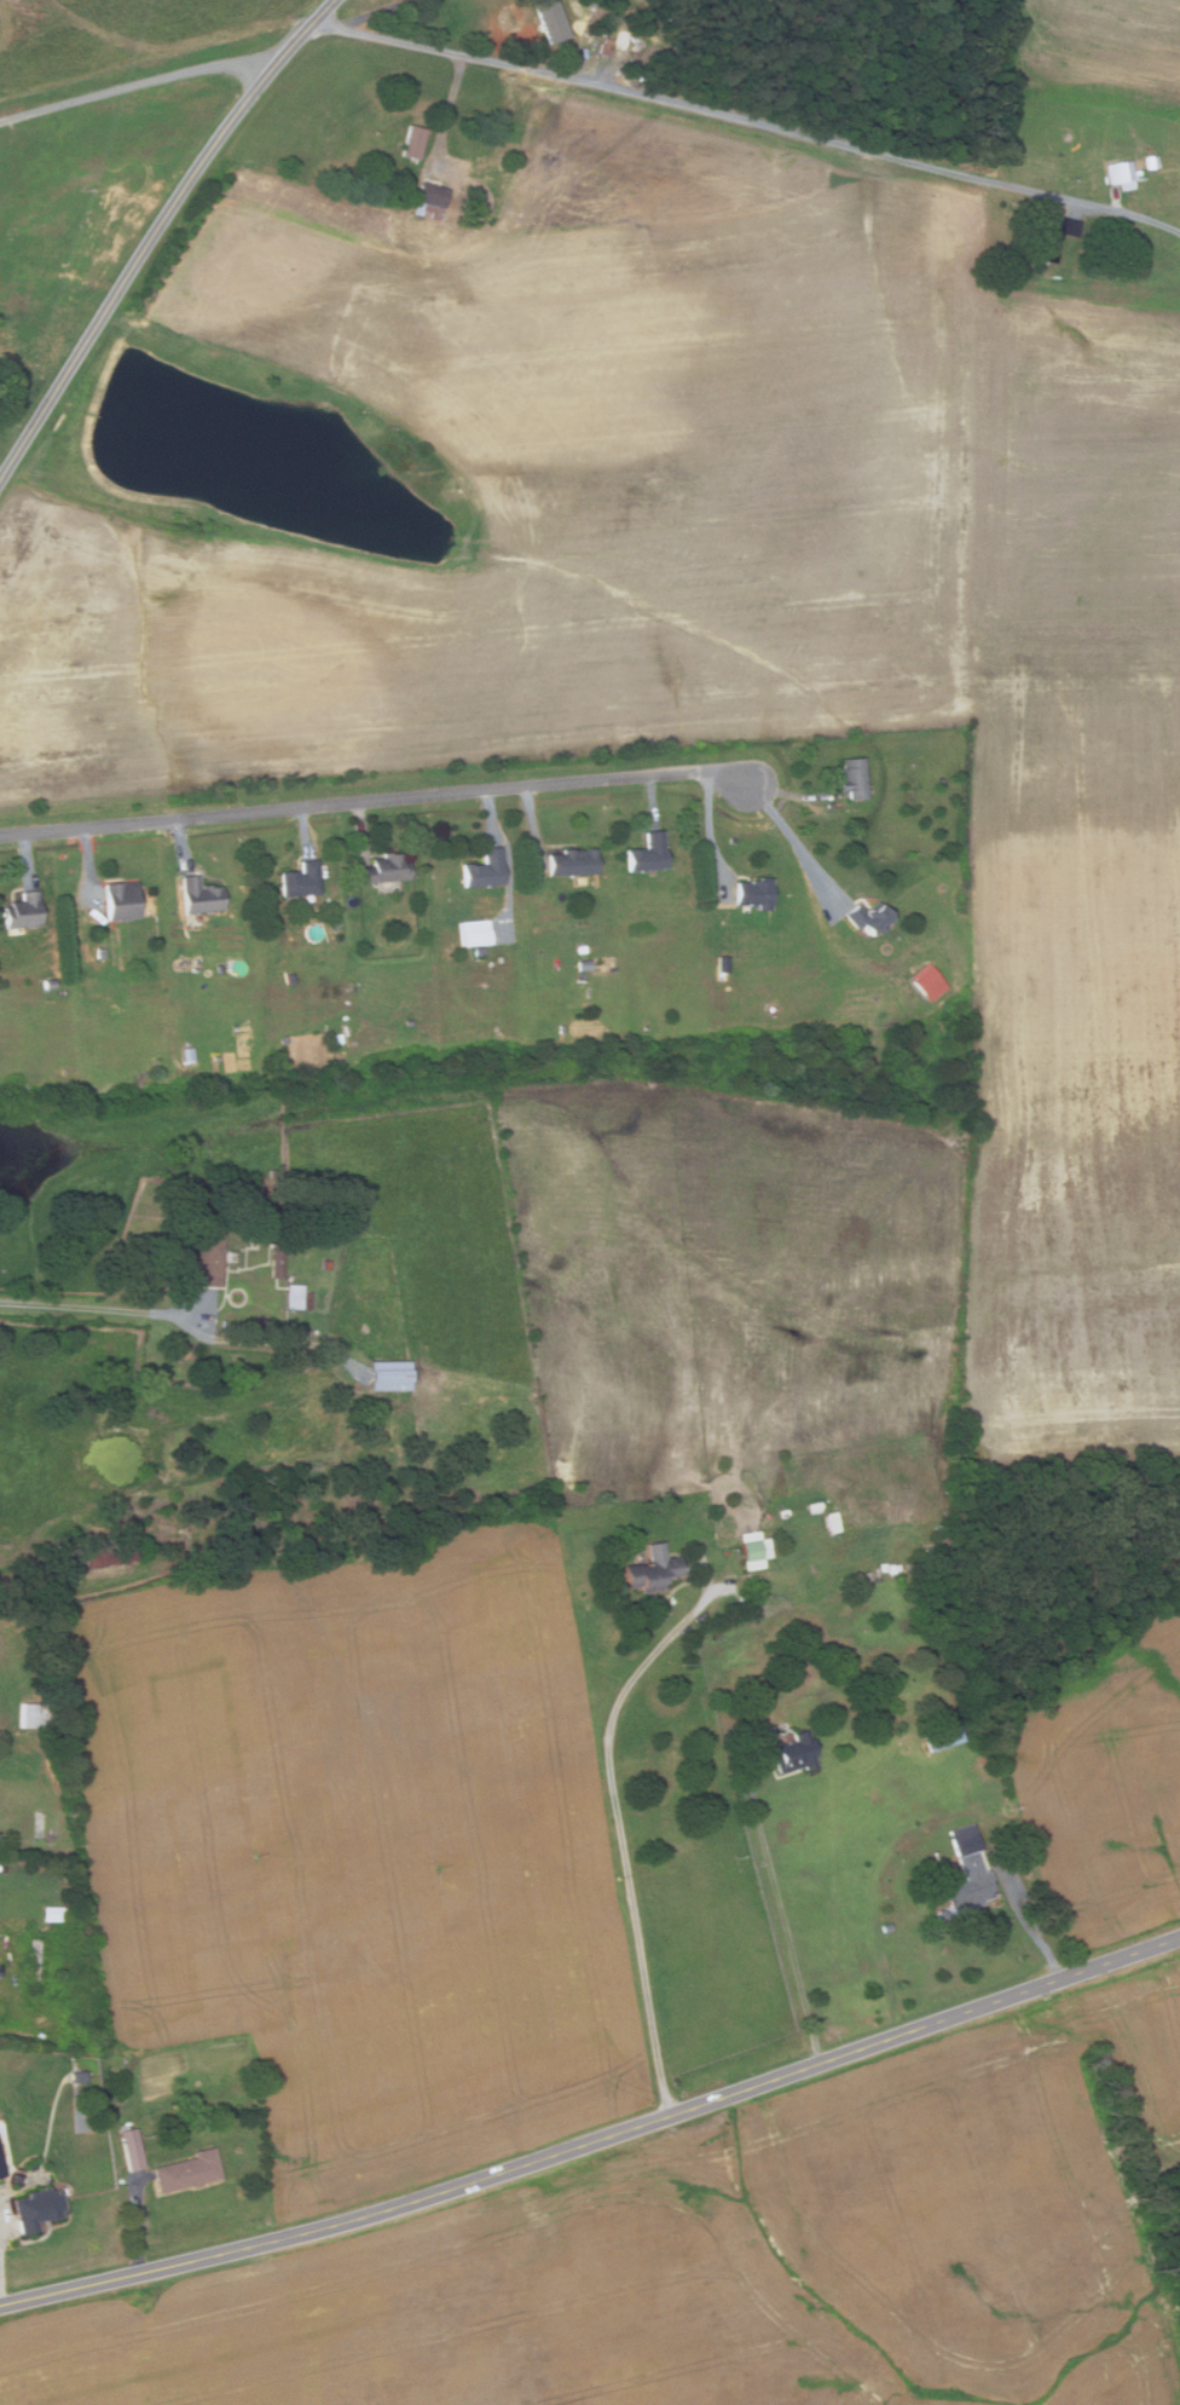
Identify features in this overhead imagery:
building: (591, 4)
building: (549, 30)
building: (606, 46)
crop: (1088, 52)
road: (530, 54)
road: (135, 96)
road: (451, 108)
road: (750, 120)
building: (413, 142)
building: (1147, 163)
building: (1120, 174)
building: (1169, 184)
building: (430, 195)
building: (467, 202)
road: (156, 230)
building: (1049, 236)
crop: (1077, 471)
crop: (546, 478)
building: (852, 777)
road: (794, 794)
road: (375, 796)
road: (652, 800)
road: (491, 813)
road: (534, 825)
road: (307, 829)
road: (361, 829)
road: (711, 834)
road: (793, 838)
road: (183, 842)
building: (647, 853)
road: (27, 858)
building: (572, 860)
road: (89, 867)
building: (382, 869)
building: (484, 869)
building: (300, 879)
building: (753, 892)
building: (198, 895)
building: (121, 899)
building: (22, 911)
building: (866, 916)
building: (475, 930)
building: (582, 948)
building: (479, 952)
building: (100, 953)
building: (584, 965)
building: (723, 973)
building: (290, 977)
building: (931, 982)
building: (48, 984)
building: (912, 992)
building: (409, 1022)
building: (189, 1052)
crop: (1075, 1054)
building: (216, 1057)
building: (207, 1250)
building: (274, 1251)
building: (297, 1297)
road: (104, 1309)
building: (391, 1375)
building: (752, 1551)
building: (96, 1553)
building: (652, 1568)
building: (28, 1714)
building: (945, 1737)
building: (793, 1753)
crop: (1109, 1782)
building: (964, 1839)
road: (620, 1844)
crop: (363, 1852)
building: (967, 1890)
building: (50, 1914)
road: (1022, 1917)
road: (782, 1925)
building: (36, 1965)
road: (596, 2141)
building: (132, 2147)
building: (2, 2165)
building: (186, 2170)
building: (37, 2209)
road: (140, 2227)
crop: (725, 2256)

